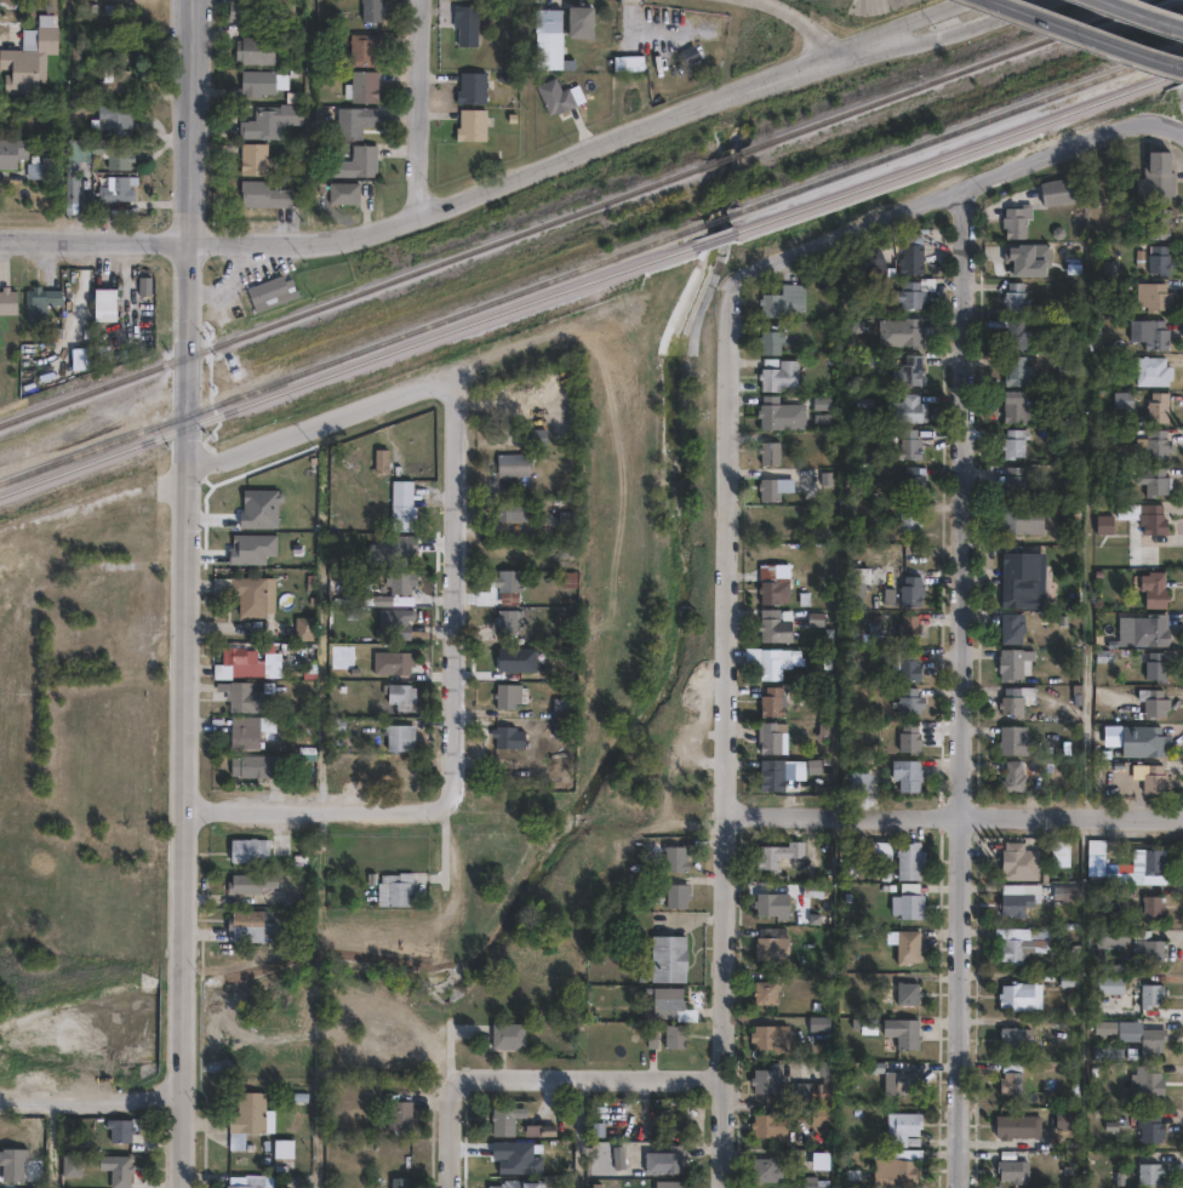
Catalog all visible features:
building: (245, 8)
building: (371, 10)
road: (1144, 13)
building: (547, 19)
building: (578, 22)
road: (918, 22)
building: (463, 23)
road: (812, 24)
road: (953, 32)
road: (1097, 32)
road: (648, 34)
building: (360, 50)
building: (255, 51)
building: (32, 53)
building: (688, 55)
building: (628, 62)
building: (119, 75)
railway: (947, 75)
building: (257, 84)
building: (361, 85)
building: (472, 87)
building: (553, 96)
road: (422, 107)
building: (116, 113)
building: (269, 119)
building: (353, 120)
road: (190, 121)
building: (470, 124)
railway: (955, 130)
building: (12, 150)
building: (78, 152)
railway: (958, 152)
building: (116, 153)
railway: (728, 156)
building: (252, 158)
building: (360, 161)
building: (45, 166)
building: (1155, 175)
road: (960, 187)
building: (1056, 188)
building: (72, 189)
building: (112, 189)
building: (342, 192)
building: (263, 193)
road: (442, 206)
building: (1016, 217)
railway: (716, 219)
building: (1159, 221)
railway: (714, 240)
building: (868, 253)
building: (910, 255)
building: (1159, 256)
building: (269, 286)
building: (911, 289)
building: (1015, 292)
building: (1153, 292)
railway: (356, 293)
building: (783, 296)
building: (7, 299)
building: (40, 299)
building: (105, 302)
building: (909, 326)
building: (1016, 330)
building: (1149, 330)
building: (771, 337)
railway: (353, 353)
road: (187, 359)
building: (911, 365)
building: (1018, 367)
building: (1153, 367)
building: (778, 369)
railway: (347, 371)
building: (1122, 396)
building: (1017, 405)
building: (1156, 406)
building: (904, 407)
building: (781, 413)
road: (320, 419)
building: (533, 436)
building: (1012, 441)
building: (908, 442)
building: (1158, 444)
building: (767, 450)
building: (379, 457)
building: (512, 463)
building: (909, 478)
building: (1011, 479)
building: (1153, 479)
building: (772, 486)
road: (91, 503)
building: (400, 503)
building: (507, 503)
building: (510, 512)
building: (564, 512)
building: (1143, 514)
building: (909, 515)
building: (1019, 516)
building: (1103, 522)
building: (566, 572)
building: (858, 572)
building: (503, 573)
building: (1022, 575)
building: (399, 578)
building: (772, 587)
building: (910, 588)
building: (1153, 588)
building: (245, 590)
road: (457, 596)
building: (502, 616)
building: (392, 619)
building: (772, 624)
building: (302, 626)
building: (908, 627)
building: (1008, 628)
building: (1148, 628)
building: (245, 658)
building: (771, 658)
building: (399, 659)
building: (904, 662)
building: (1012, 662)
building: (1154, 666)
road: (959, 686)
building: (505, 687)
building: (398, 691)
building: (242, 692)
building: (360, 692)
building: (770, 698)
building: (1015, 698)
building: (908, 699)
building: (1153, 703)
building: (560, 710)
building: (290, 722)
building: (247, 727)
building: (507, 730)
road: (728, 732)
building: (1110, 733)
building: (399, 735)
building: (770, 735)
building: (908, 736)
building: (1013, 739)
building: (1145, 742)
building: (256, 763)
building: (905, 772)
building: (771, 773)
building: (1011, 776)
building: (858, 778)
building: (1153, 778)
road: (318, 807)
road: (955, 815)
road: (182, 832)
building: (246, 849)
building: (881, 849)
building: (1095, 849)
building: (777, 853)
building: (1058, 853)
building: (673, 858)
building: (909, 859)
building: (1145, 861)
building: (1017, 862)
building: (248, 880)
building: (399, 886)
building: (811, 889)
building: (674, 895)
building: (1012, 901)
building: (765, 904)
building: (909, 906)
building: (1151, 908)
building: (247, 924)
building: (1051, 938)
building: (1110, 938)
building: (903, 944)
building: (770, 947)
building: (1145, 949)
building: (1011, 950)
building: (668, 958)
building: (1108, 986)
building: (764, 992)
building: (905, 993)
building: (1149, 995)
building: (1019, 996)
building: (668, 1006)
building: (819, 1023)
building: (899, 1028)
building: (1119, 1030)
building: (508, 1033)
building: (673, 1036)
building: (776, 1038)
building: (1016, 1038)
building: (1151, 1041)
building: (1107, 1052)
building: (893, 1078)
road: (589, 1079)
building: (766, 1079)
building: (1010, 1079)
building: (1145, 1084)
building: (812, 1091)
road: (90, 1106)
building: (396, 1112)
building: (819, 1115)
building: (246, 1118)
building: (503, 1118)
building: (118, 1125)
building: (768, 1126)
building: (1015, 1126)
building: (538, 1127)
building: (902, 1129)
building: (1149, 1129)
road: (573, 1133)
road: (451, 1135)
building: (281, 1147)
building: (17, 1156)
building: (619, 1156)
building: (503, 1160)
building: (665, 1160)
building: (817, 1160)
building: (118, 1164)
building: (893, 1166)
building: (762, 1169)
building: (1010, 1171)
building: (1148, 1173)
building: (247, 1181)
building: (396, 1182)
building: (518, 1182)
building: (813, 1182)
building: (668, 1184)

